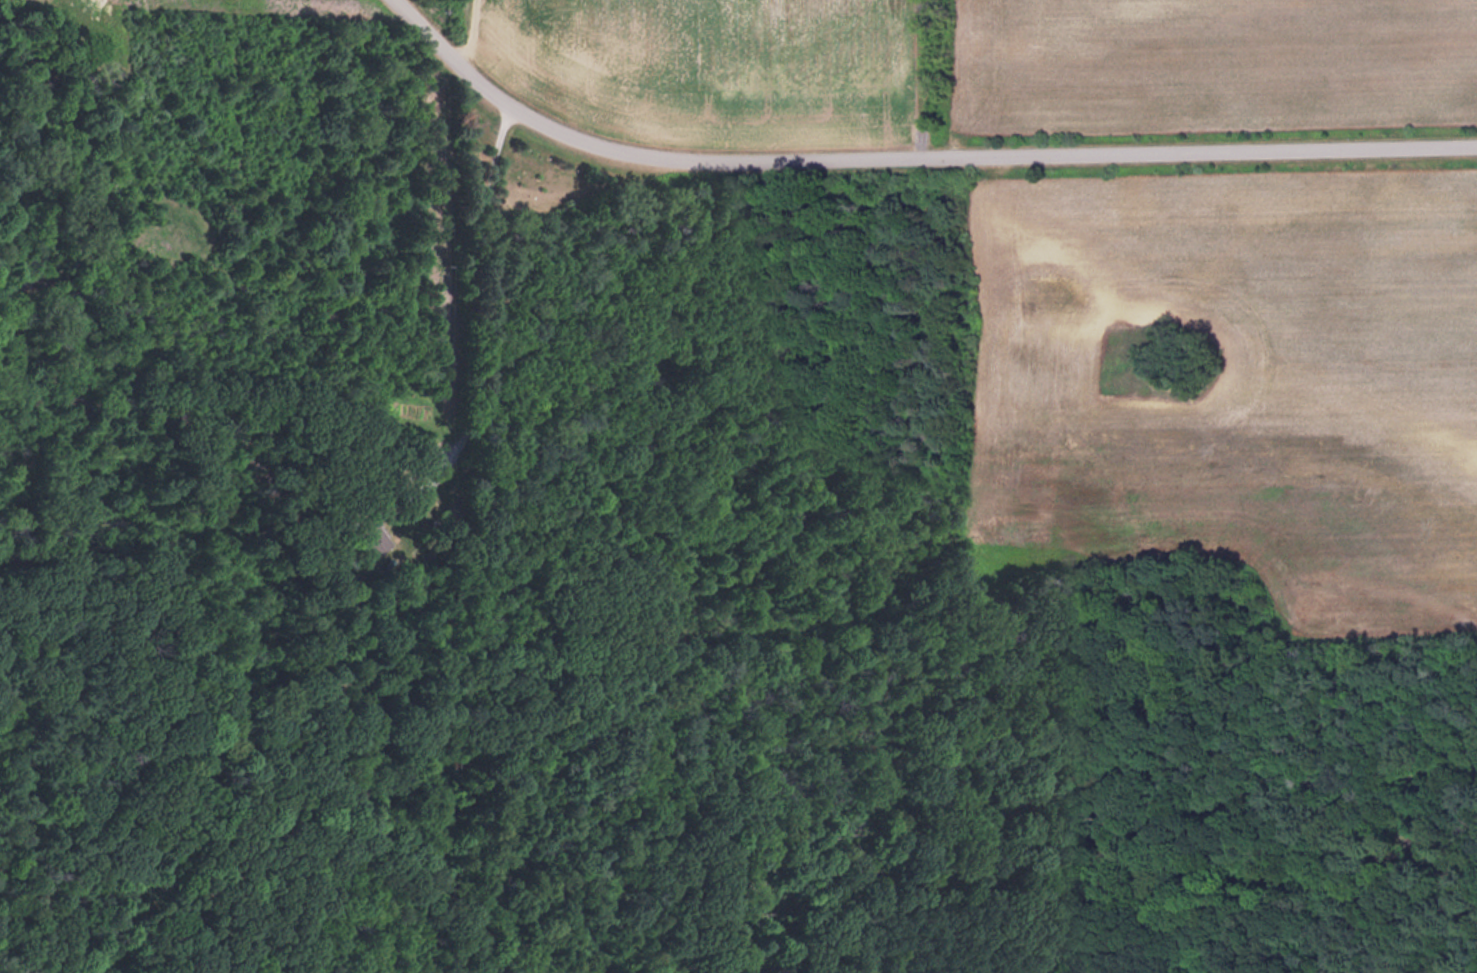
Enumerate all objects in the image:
road: (905, 167)
road: (483, 314)

